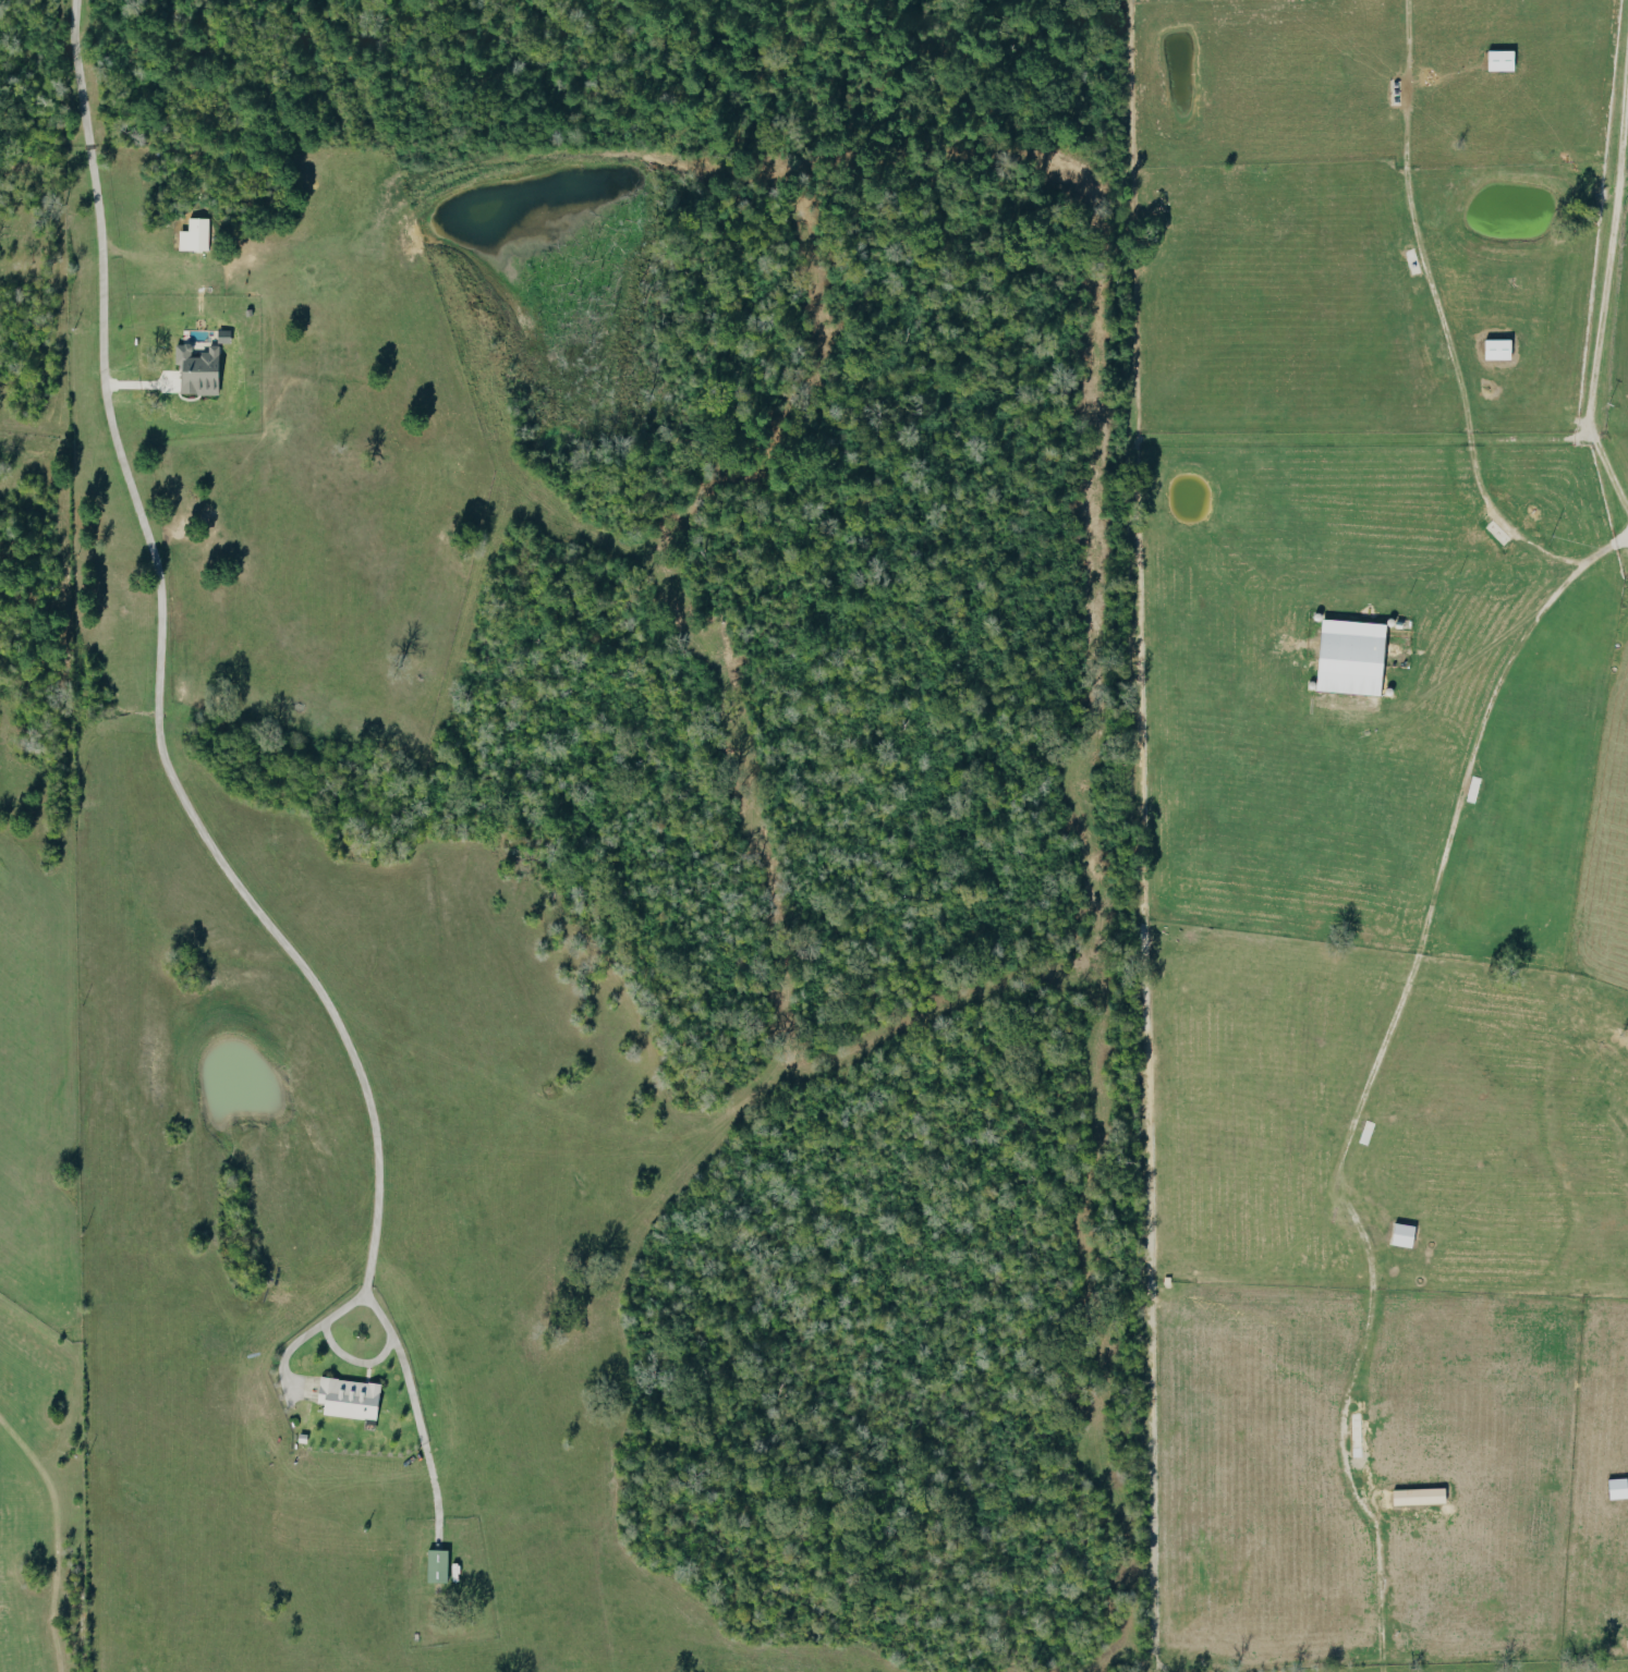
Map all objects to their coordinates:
building: (1504, 60)
road: (1413, 224)
building: (197, 235)
road: (1604, 283)
building: (1499, 346)
building: (201, 368)
road: (1473, 469)
building: (1353, 656)
road: (166, 669)
road: (1371, 1079)
building: (1407, 1234)
road: (357, 1360)
building: (351, 1398)
building: (1619, 1487)
building: (1422, 1494)
building: (439, 1565)

